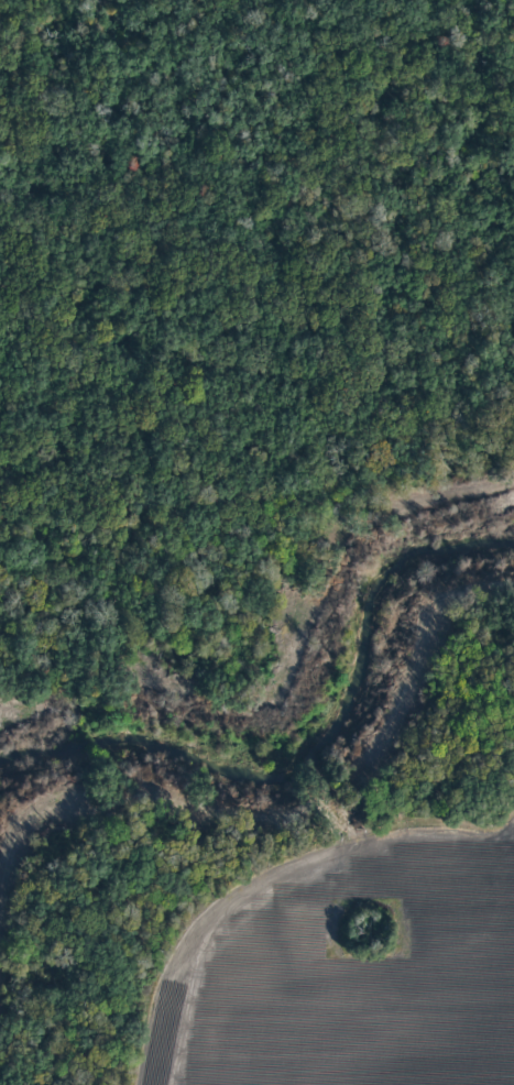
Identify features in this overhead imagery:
river: (311, 733)

